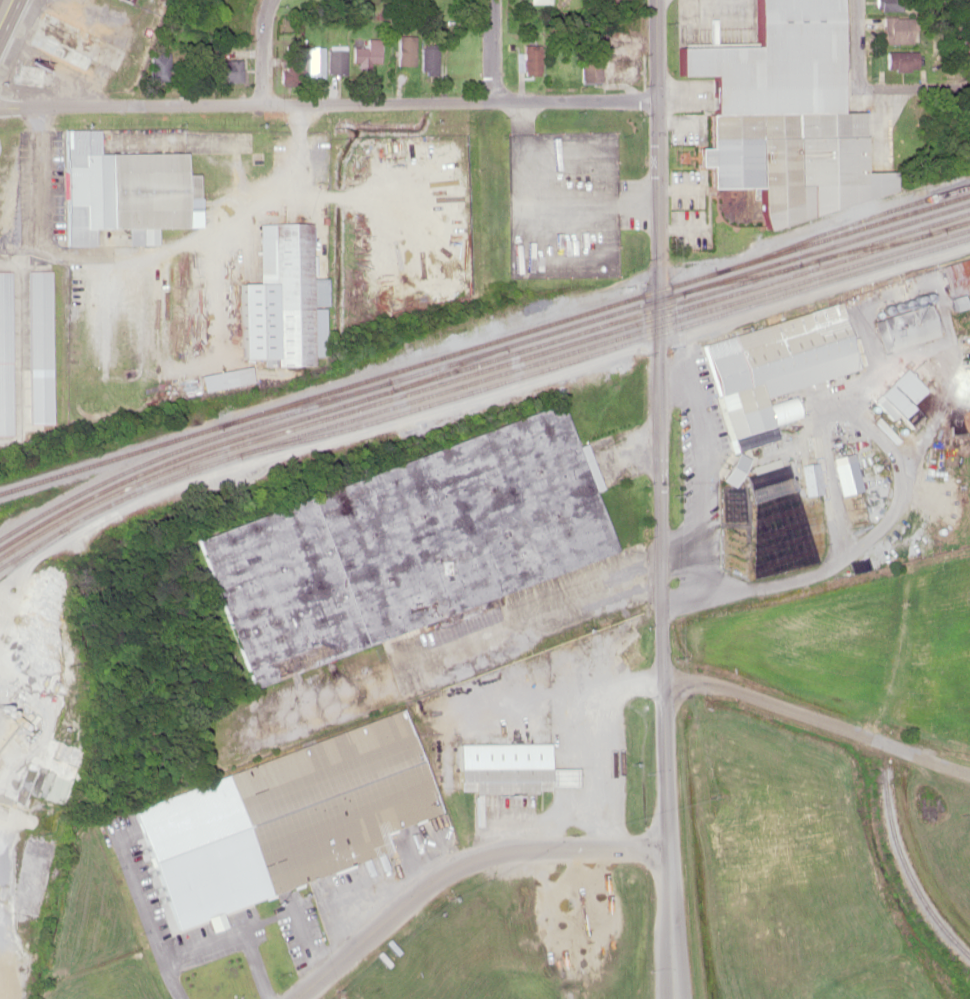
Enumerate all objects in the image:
building: (540, 1)
building: (227, 2)
road: (4, 9)
building: (895, 29)
building: (227, 31)
building: (84, 44)
road: (856, 44)
road: (492, 49)
road: (264, 50)
building: (366, 53)
building: (429, 59)
building: (530, 59)
building: (336, 60)
building: (897, 60)
building: (317, 61)
building: (290, 62)
building: (159, 65)
building: (622, 68)
building: (224, 70)
building: (590, 70)
road: (913, 88)
road: (327, 100)
building: (782, 114)
building: (123, 191)
railway: (959, 223)
railway: (845, 224)
railway: (878, 243)
railway: (748, 275)
building: (953, 275)
railway: (683, 291)
building: (288, 295)
railway: (599, 307)
building: (38, 319)
building: (902, 327)
railway: (614, 338)
railway: (616, 346)
building: (5, 353)
railway: (477, 362)
railway: (448, 367)
building: (773, 367)
railway: (477, 370)
building: (897, 396)
railway: (312, 400)
railway: (192, 445)
railway: (114, 457)
building: (843, 472)
building: (808, 478)
building: (768, 486)
railway: (124, 495)
road: (660, 499)
building: (404, 548)
road: (528, 610)
building: (629, 654)
road: (817, 718)
building: (510, 768)
building: (282, 820)
road: (458, 864)
railway: (906, 867)

